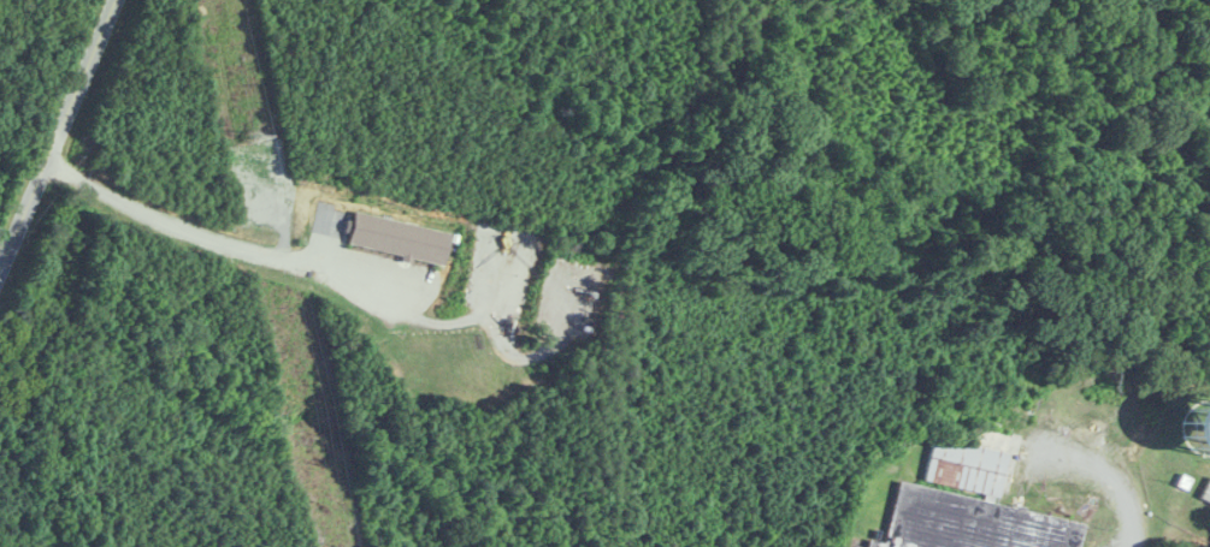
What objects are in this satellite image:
road: (59, 133)
power tower: (253, 133)
road: (331, 268)
water tower: (1203, 435)
road: (1114, 488)
building: (1206, 495)
building: (969, 503)

